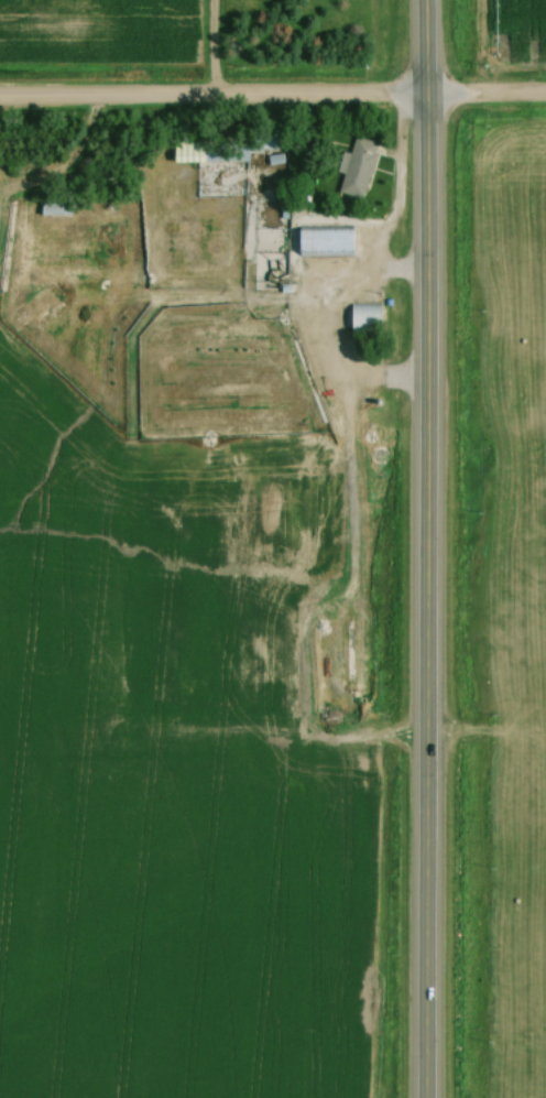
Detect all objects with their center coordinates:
road: (211, 45)
road: (425, 45)
road: (485, 90)
road: (212, 91)
building: (223, 145)
building: (356, 166)
building: (54, 205)
building: (324, 240)
building: (363, 318)
road: (314, 322)
road: (425, 595)

